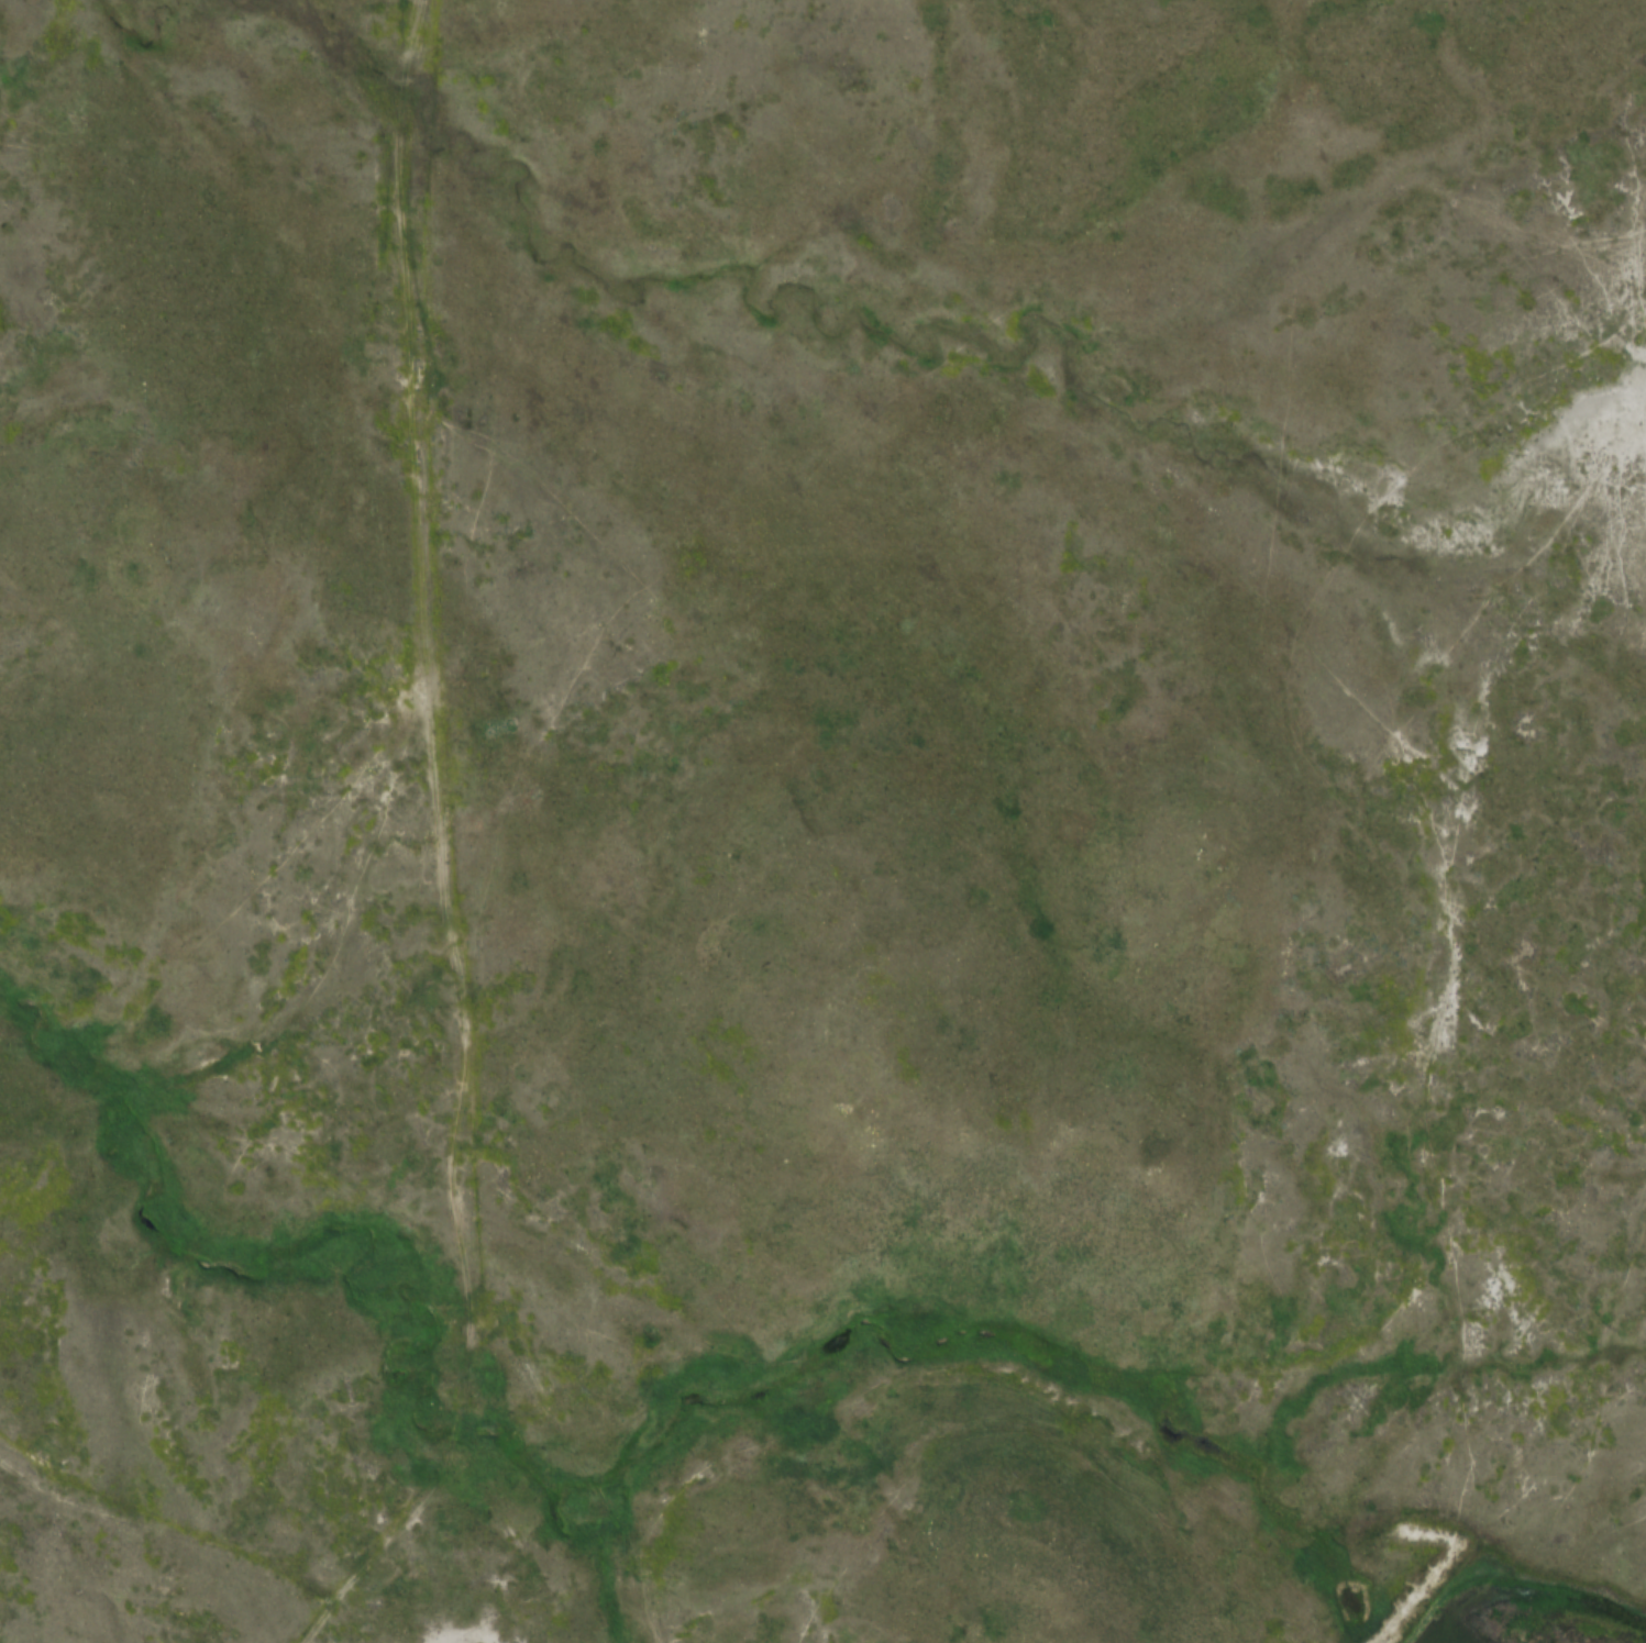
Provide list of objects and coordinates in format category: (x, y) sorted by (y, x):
dam: (1411, 1594)

